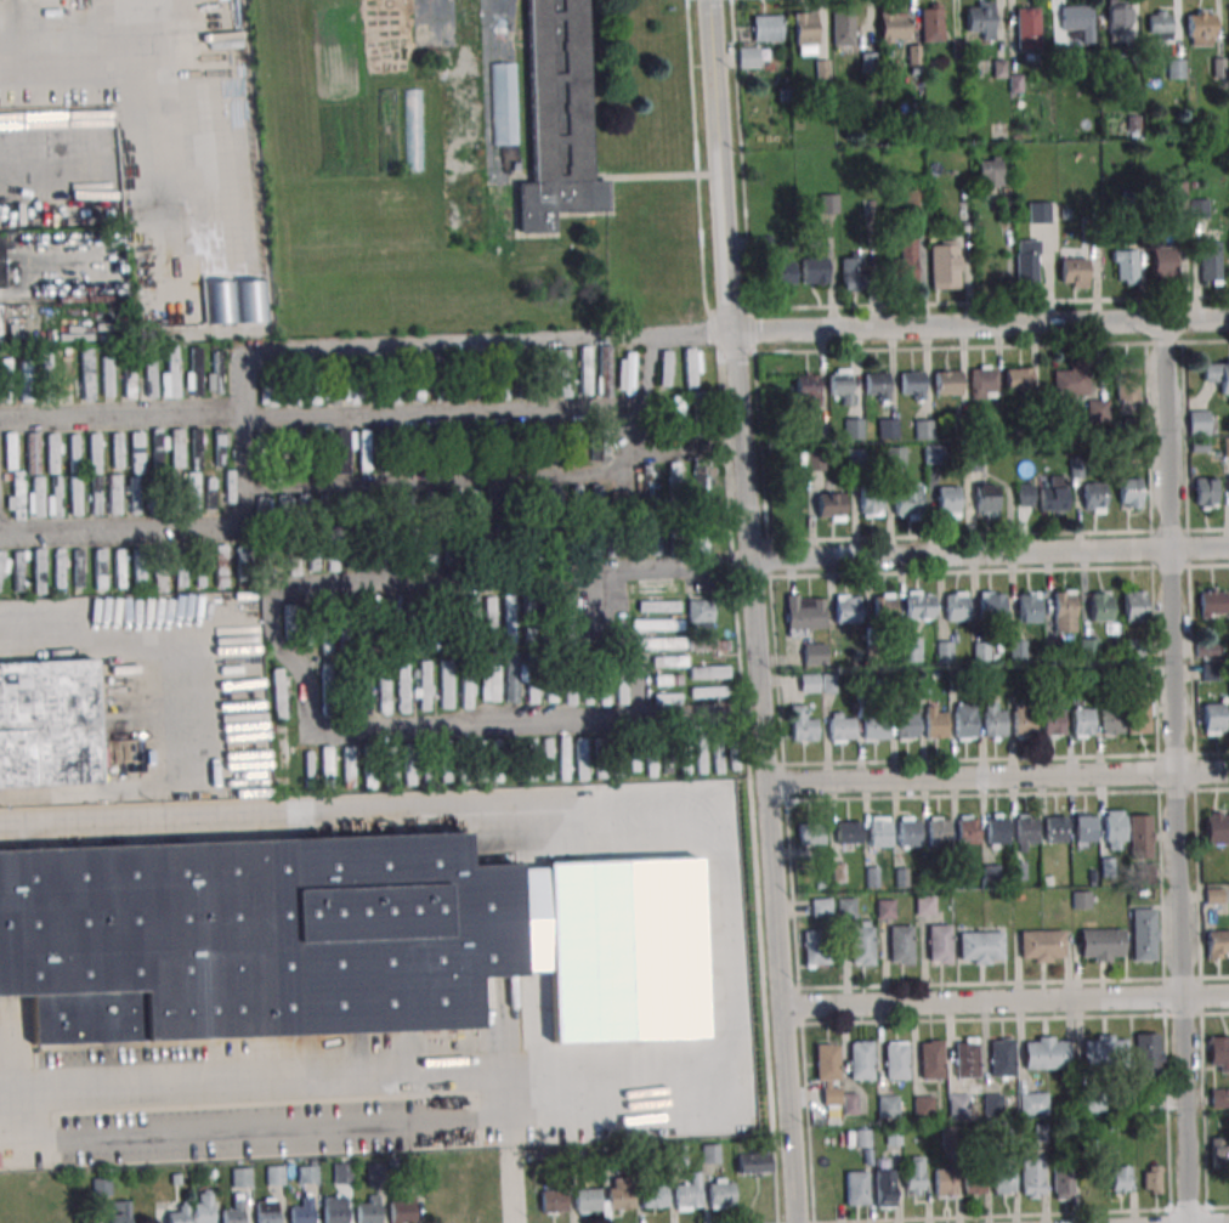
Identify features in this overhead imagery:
building: (1118, 17)
building: (981, 18)
building: (1078, 21)
building: (931, 22)
building: (1159, 24)
building: (894, 27)
building: (766, 28)
building: (843, 28)
building: (1027, 28)
building: (1200, 28)
building: (805, 33)
building: (748, 57)
road: (166, 101)
building: (559, 117)
building: (387, 130)
building: (413, 130)
road: (13, 135)
building: (989, 171)
building: (914, 197)
building: (1178, 197)
building: (828, 204)
building: (1038, 213)
building: (1, 261)
building: (906, 261)
building: (1027, 261)
building: (1162, 262)
building: (944, 265)
building: (1211, 265)
building: (1125, 266)
building: (815, 270)
building: (853, 271)
building: (1074, 272)
building: (783, 273)
building: (250, 301)
road: (980, 322)
building: (0, 325)
building: (74, 335)
road: (398, 340)
building: (46, 368)
building: (664, 368)
building: (692, 368)
building: (604, 369)
building: (170, 370)
building: (194, 370)
building: (585, 370)
building: (215, 372)
building: (86, 373)
building: (563, 373)
building: (627, 373)
building: (1217, 374)
building: (107, 376)
building: (151, 378)
building: (129, 379)
building: (1018, 379)
building: (5, 380)
building: (26, 380)
building: (947, 381)
building: (984, 381)
building: (1070, 381)
building: (1127, 383)
building: (912, 385)
building: (503, 386)
building: (840, 386)
building: (877, 386)
building: (542, 389)
building: (418, 390)
building: (808, 390)
building: (271, 392)
building: (352, 393)
building: (395, 393)
building: (330, 396)
road: (385, 407)
building: (700, 414)
building: (678, 415)
building: (1197, 421)
building: (854, 428)
building: (888, 428)
building: (924, 429)
building: (321, 437)
building: (1225, 446)
building: (177, 447)
building: (196, 447)
building: (219, 447)
building: (10, 451)
building: (117, 451)
building: (158, 451)
building: (342, 451)
building: (363, 451)
building: (572, 451)
building: (136, 452)
building: (52, 453)
building: (74, 453)
building: (95, 453)
building: (933, 455)
building: (895, 457)
road: (625, 459)
building: (815, 460)
building: (321, 465)
building: (34, 474)
road: (432, 480)
building: (675, 480)
building: (650, 483)
building: (230, 486)
building: (192, 492)
building: (1129, 492)
building: (209, 493)
building: (1205, 493)
building: (75, 494)
building: (114, 494)
building: (134, 494)
building: (1024, 494)
building: (1053, 494)
building: (15, 496)
building: (55, 496)
building: (96, 497)
building: (566, 497)
building: (1093, 497)
building: (907, 499)
building: (986, 499)
building: (330, 500)
building: (622, 500)
building: (947, 502)
building: (868, 503)
building: (829, 504)
building: (262, 508)
building: (282, 508)
building: (305, 508)
road: (163, 531)
building: (485, 536)
building: (700, 540)
building: (659, 542)
building: (589, 544)
building: (431, 547)
building: (409, 551)
building: (313, 554)
building: (330, 554)
road: (989, 555)
building: (294, 557)
building: (274, 559)
building: (243, 562)
building: (221, 565)
building: (79, 567)
building: (138, 567)
building: (18, 568)
building: (60, 568)
building: (100, 568)
building: (119, 568)
building: (200, 568)
building: (2, 571)
building: (39, 571)
building: (181, 571)
building: (159, 573)
road: (508, 579)
building: (655, 588)
building: (1211, 602)
building: (991, 604)
building: (884, 605)
building: (919, 605)
building: (568, 606)
building: (658, 606)
building: (956, 606)
building: (1029, 606)
building: (1100, 606)
building: (1134, 606)
building: (846, 608)
road: (753, 611)
building: (1064, 611)
building: (700, 612)
building: (469, 615)
building: (805, 615)
building: (489, 617)
building: (293, 618)
building: (509, 618)
building: (657, 624)
building: (567, 635)
building: (325, 639)
building: (658, 644)
building: (707, 645)
building: (1088, 647)
building: (1137, 647)
road: (619, 649)
building: (1206, 649)
building: (1018, 650)
building: (814, 655)
building: (709, 672)
building: (664, 673)
building: (511, 678)
building: (491, 679)
building: (532, 683)
building: (809, 683)
building: (446, 684)
building: (622, 684)
building: (828, 684)
building: (424, 685)
building: (327, 686)
building: (402, 686)
building: (468, 692)
building: (709, 692)
building: (278, 693)
building: (363, 693)
building: (384, 693)
building: (668, 698)
road: (180, 703)
building: (1139, 712)
building: (995, 719)
building: (1024, 719)
building: (1213, 719)
building: (964, 720)
building: (1111, 720)
building: (1053, 721)
building: (1082, 721)
building: (906, 723)
building: (934, 723)
building: (47, 724)
building: (803, 725)
building: (840, 726)
building: (874, 729)
road: (458, 732)
building: (442, 752)
building: (548, 757)
building: (719, 757)
building: (563, 758)
building: (582, 758)
building: (686, 758)
building: (701, 758)
building: (288, 759)
building: (502, 759)
building: (528, 759)
building: (651, 759)
building: (412, 764)
building: (310, 765)
building: (327, 765)
building: (347, 766)
building: (390, 768)
road: (1176, 771)
road: (998, 775)
building: (1216, 827)
building: (996, 828)
building: (1055, 828)
building: (967, 830)
building: (1024, 830)
building: (1084, 830)
building: (1114, 830)
building: (879, 831)
building: (939, 831)
building: (848, 832)
building: (910, 832)
building: (810, 833)
building: (1139, 836)
building: (1081, 899)
building: (924, 905)
building: (821, 907)
building: (846, 907)
building: (885, 908)
building: (1143, 934)
building: (253, 936)
building: (862, 942)
building: (900, 944)
building: (939, 944)
building: (1100, 944)
building: (1217, 944)
building: (815, 946)
building: (1041, 946)
building: (980, 947)
road: (1006, 997)
building: (1104, 1049)
building: (1044, 1053)
building: (1218, 1053)
building: (967, 1057)
building: (1001, 1057)
building: (1148, 1057)
building: (930, 1059)
building: (861, 1060)
building: (895, 1060)
building: (827, 1074)
road: (273, 1078)
building: (1219, 1097)
building: (1032, 1103)
building: (992, 1104)
building: (923, 1105)
building: (958, 1105)
building: (1091, 1105)
building: (888, 1106)
building: (1219, 1151)
building: (710, 1154)
building: (753, 1162)
building: (341, 1173)
building: (307, 1174)
building: (274, 1176)
building: (913, 1176)
building: (240, 1177)
building: (1032, 1177)
building: (1151, 1178)
building: (974, 1179)
building: (1003, 1179)
building: (1063, 1179)
building: (1120, 1179)
building: (884, 1182)
building: (944, 1182)
building: (856, 1188)
road: (514, 1191)
building: (619, 1193)
building: (689, 1193)
building: (721, 1194)
building: (655, 1196)
building: (588, 1200)
building: (554, 1201)
building: (202, 1207)
building: (334, 1208)
building: (368, 1208)
building: (402, 1208)
building: (266, 1210)
building: (119, 1211)
building: (234, 1211)
building: (302, 1211)
building: (177, 1213)

